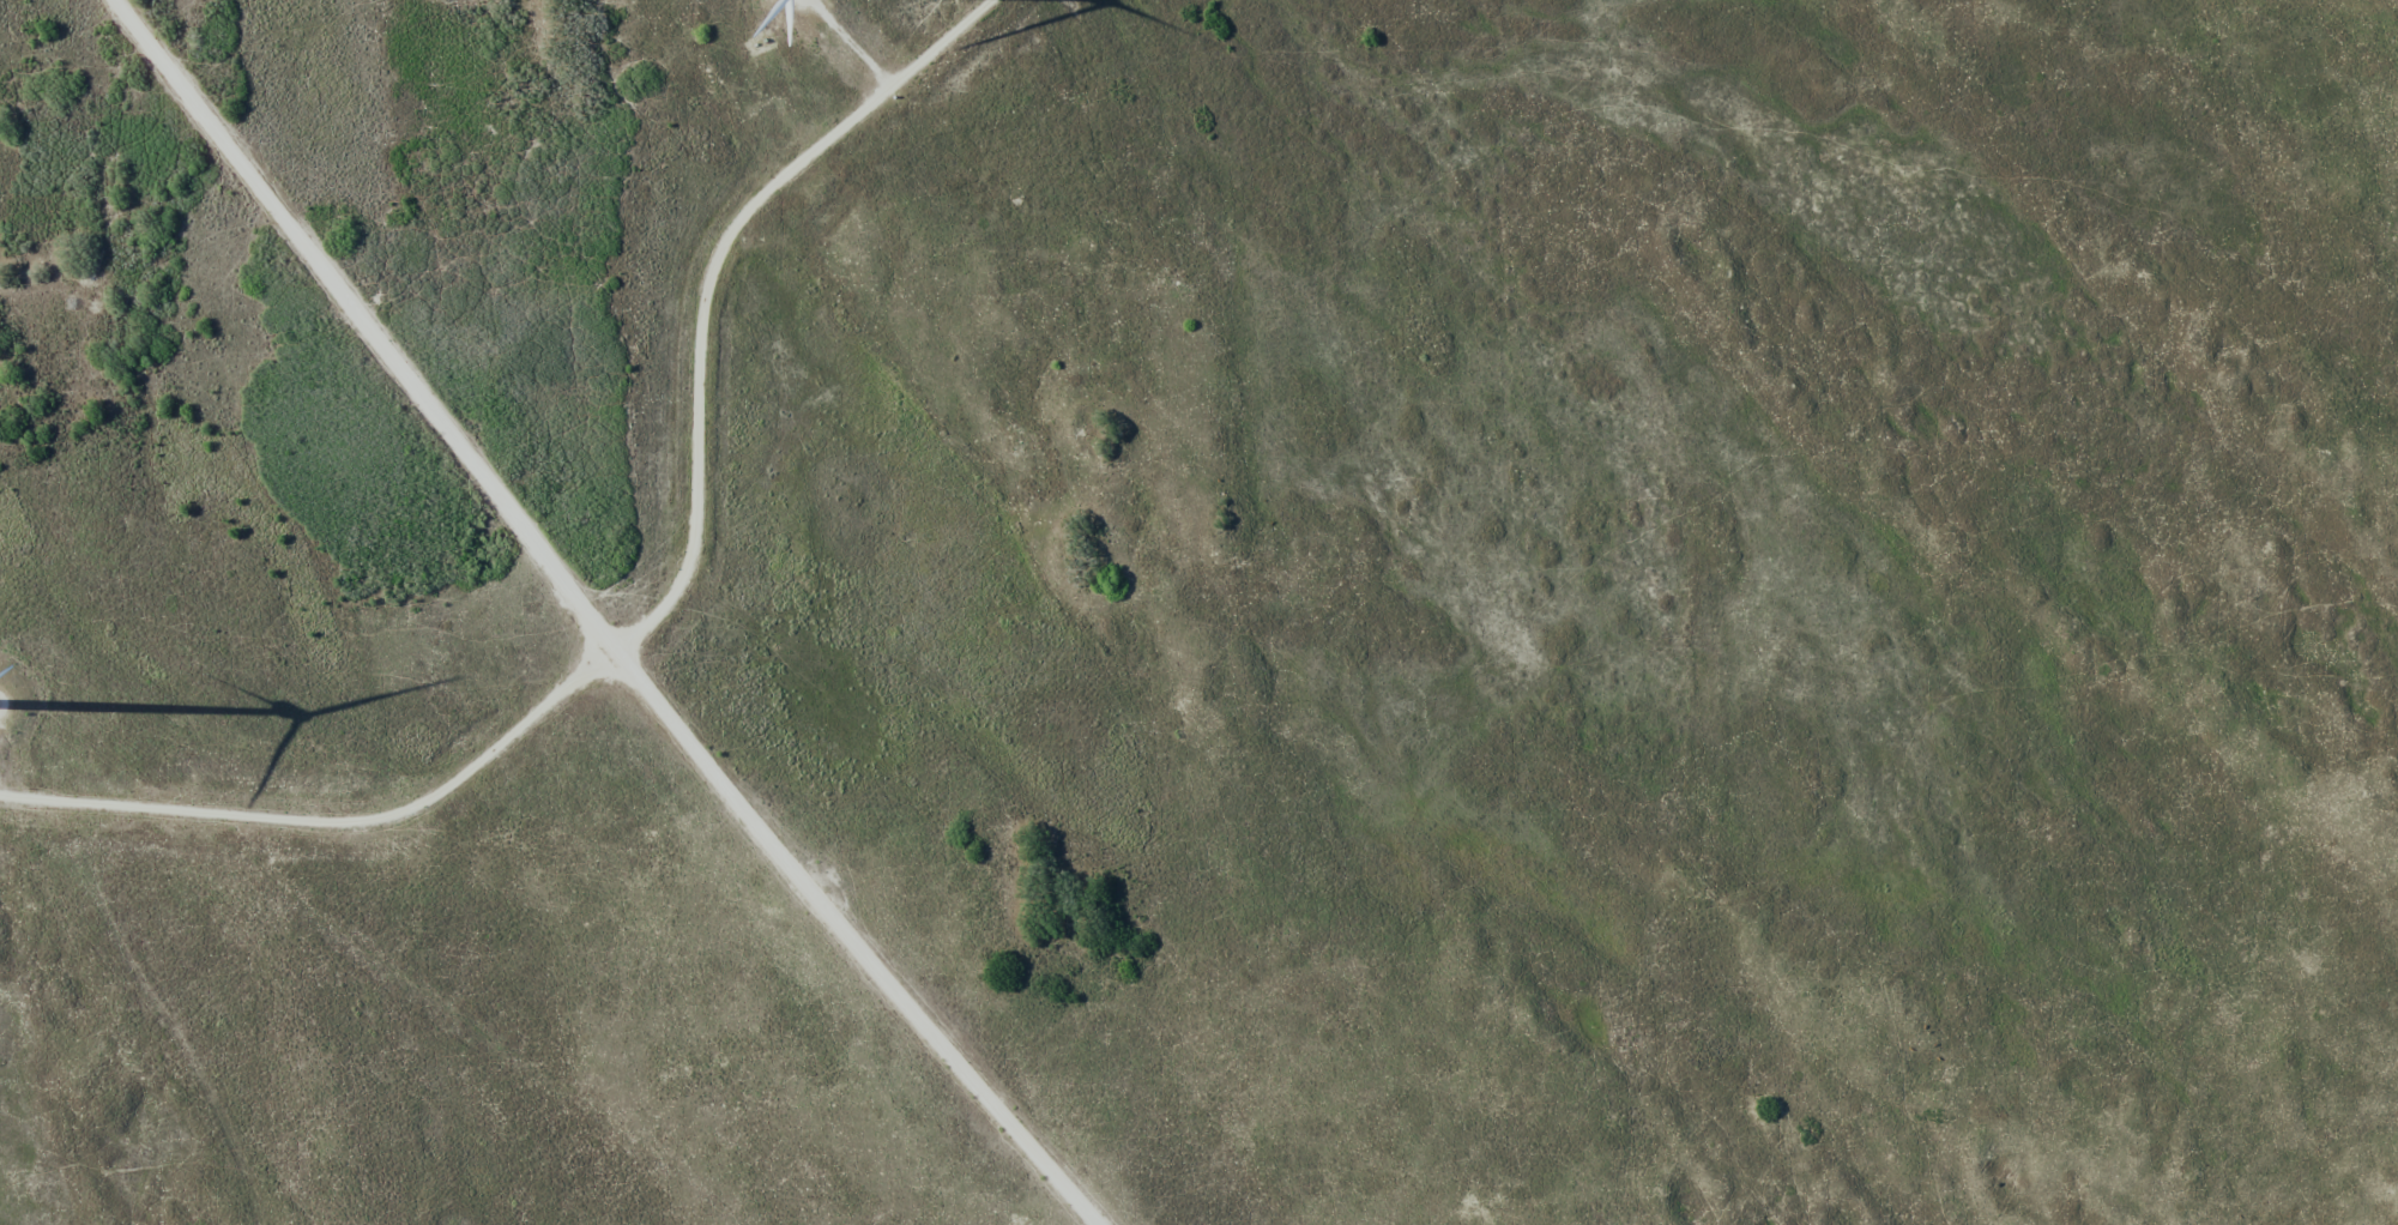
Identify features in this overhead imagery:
road: (609, 621)
wind turbine: (5, 704)

